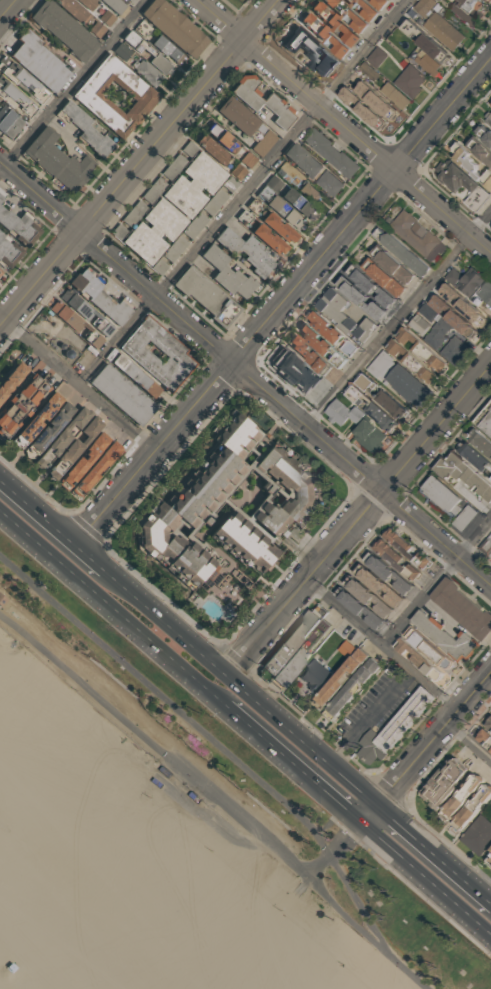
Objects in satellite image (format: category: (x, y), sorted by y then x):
building: (389, 0)
building: (441, 0)
building: (488, 2)
building: (89, 3)
building: (379, 4)
building: (113, 5)
building: (425, 6)
road: (7, 8)
building: (74, 9)
building: (467, 11)
building: (368, 12)
building: (344, 15)
building: (332, 24)
building: (171, 26)
building: (97, 27)
building: (64, 29)
building: (445, 30)
building: (321, 36)
building: (425, 43)
building: (168, 49)
building: (124, 50)
building: (146, 51)
building: (378, 56)
building: (38, 61)
building: (427, 63)
building: (367, 69)
building: (146, 71)
building: (411, 81)
building: (26, 82)
road: (73, 85)
building: (114, 96)
building: (399, 98)
building: (16, 100)
building: (262, 104)
building: (370, 104)
building: (490, 104)
building: (488, 118)
building: (9, 126)
building: (247, 126)
road: (343, 127)
building: (87, 131)
building: (483, 135)
building: (223, 137)
building: (213, 148)
building: (188, 149)
building: (479, 151)
building: (331, 154)
building: (248, 159)
building: (56, 160)
building: (302, 160)
road: (138, 162)
building: (468, 163)
building: (173, 168)
building: (238, 171)
building: (203, 174)
building: (229, 184)
building: (329, 184)
building: (459, 185)
building: (152, 191)
building: (308, 191)
road: (244, 193)
building: (287, 196)
building: (182, 198)
building: (213, 203)
building: (284, 209)
building: (132, 214)
building: (163, 220)
building: (193, 226)
building: (15, 227)
building: (280, 227)
building: (118, 232)
building: (417, 236)
building: (270, 239)
building: (141, 245)
building: (173, 250)
building: (6, 252)
building: (245, 252)
building: (401, 252)
building: (389, 264)
building: (158, 268)
building: (0, 274)
building: (377, 274)
building: (226, 275)
building: (468, 279)
building: (373, 286)
building: (485, 293)
building: (202, 295)
building: (363, 298)
road: (286, 299)
building: (98, 300)
building: (461, 306)
building: (426, 313)
building: (84, 314)
building: (341, 316)
building: (452, 317)
road: (398, 319)
building: (418, 324)
building: (74, 326)
building: (436, 333)
building: (331, 334)
building: (320, 346)
building: (454, 350)
building: (156, 353)
building: (424, 354)
building: (307, 355)
building: (379, 364)
building: (417, 365)
building: (292, 372)
road: (245, 373)
building: (134, 376)
building: (11, 378)
road: (78, 385)
building: (408, 386)
building: (122, 395)
building: (382, 398)
building: (20, 405)
building: (371, 409)
building: (341, 413)
building: (36, 420)
building: (484, 421)
building: (49, 430)
building: (367, 437)
building: (61, 438)
building: (480, 442)
building: (74, 446)
building: (475, 458)
building: (82, 462)
building: (94, 471)
building: (461, 474)
building: (439, 495)
road: (55, 515)
building: (194, 515)
road: (360, 516)
building: (267, 517)
building: (463, 518)
building: (404, 549)
building: (396, 560)
building: (388, 574)
road: (437, 582)
building: (377, 585)
building: (367, 597)
building: (3, 599)
road: (112, 607)
building: (358, 608)
building: (462, 609)
building: (446, 637)
building: (289, 643)
road: (382, 645)
building: (347, 648)
building: (433, 651)
building: (301, 652)
building: (422, 663)
building: (314, 678)
road: (244, 680)
building: (347, 683)
building: (488, 723)
building: (395, 727)
building: (485, 738)
road: (468, 743)
road: (425, 746)
road: (230, 757)
road: (293, 763)
road: (196, 779)
building: (445, 780)
building: (462, 797)
building: (473, 807)
building: (478, 836)
road: (434, 852)
building: (489, 856)
road: (316, 862)
road: (426, 878)
building: (35, 938)

